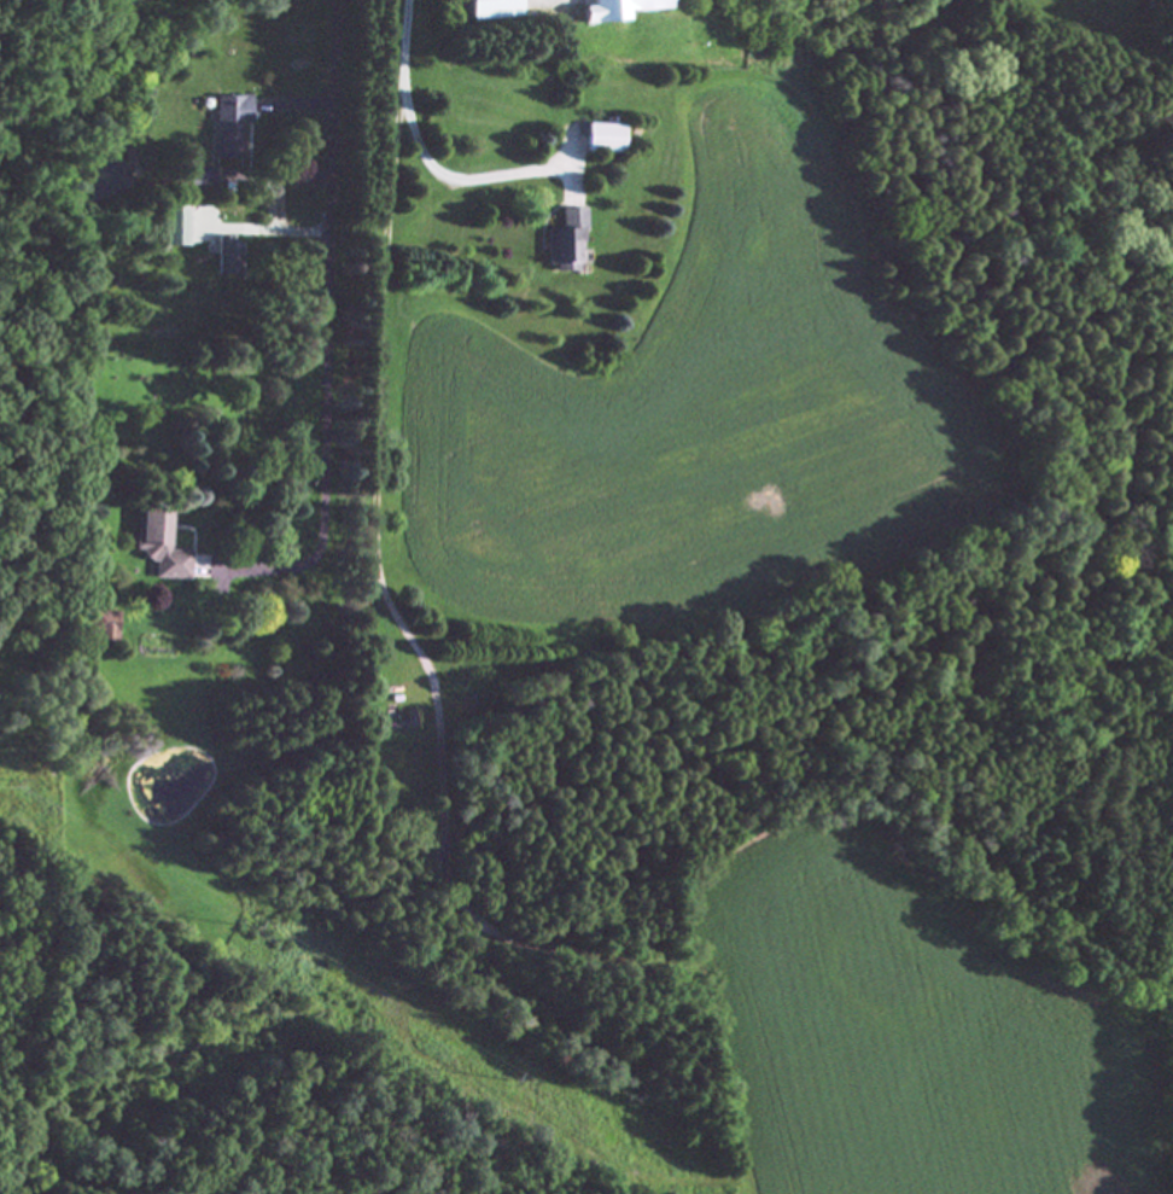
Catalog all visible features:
building: (489, 8)
building: (614, 10)
road: (302, 100)
building: (227, 126)
building: (600, 139)
road: (425, 153)
building: (198, 176)
building: (173, 227)
road: (285, 231)
building: (561, 241)
building: (224, 257)
road: (329, 328)
building: (159, 547)
building: (101, 625)

